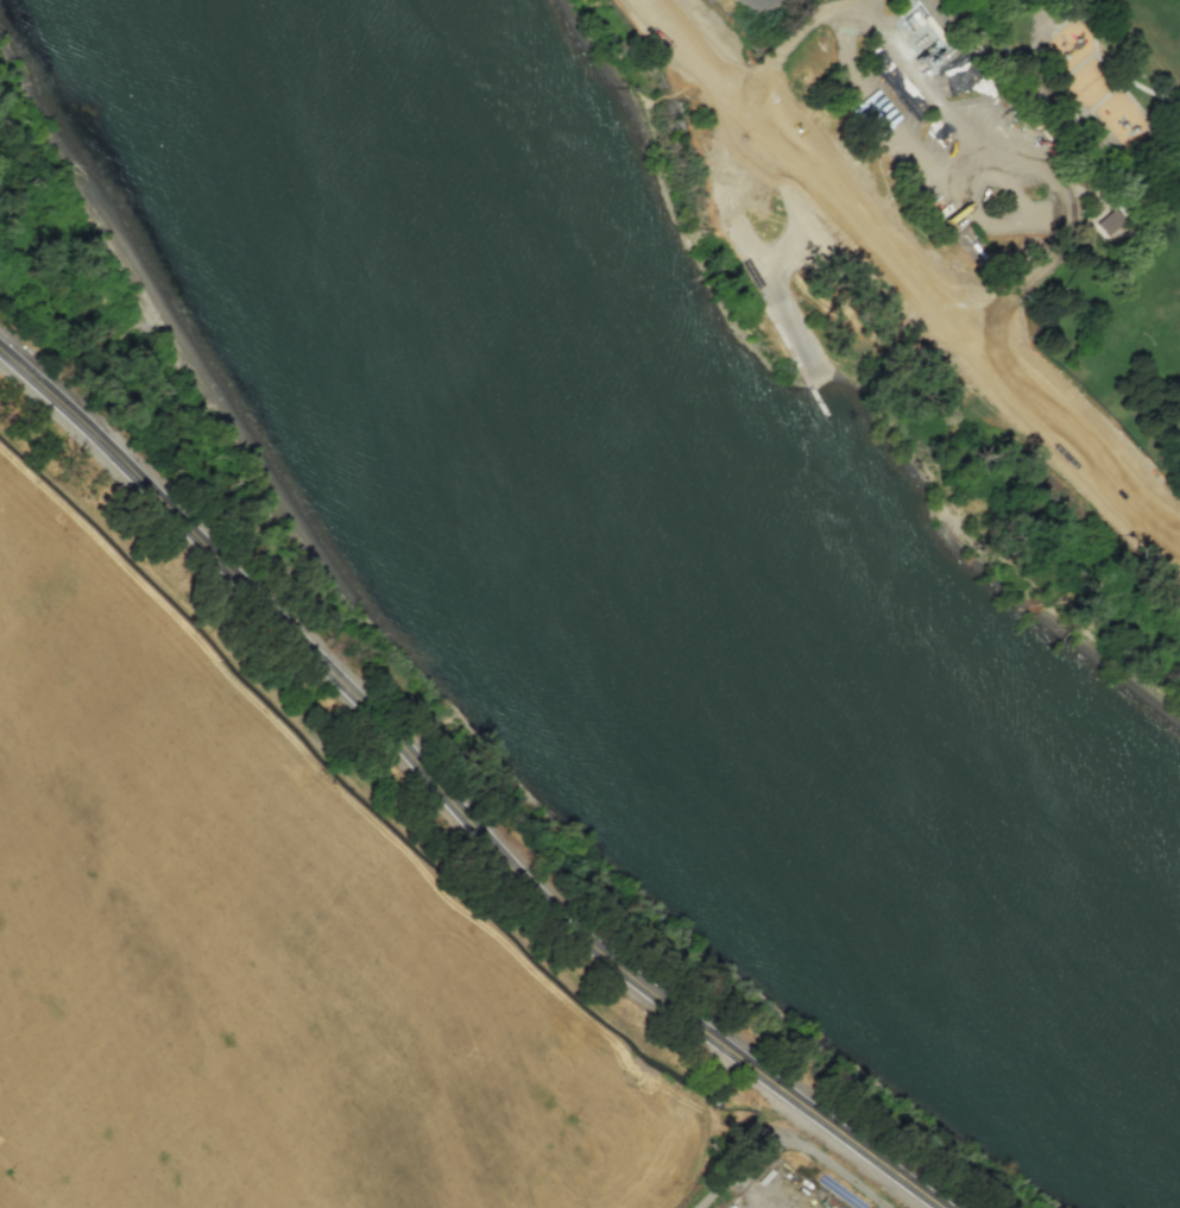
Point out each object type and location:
road: (843, 5)
park: (1154, 31)
road: (738, 93)
road: (740, 101)
road: (993, 101)
road: (948, 114)
parking lot: (951, 119)
road: (917, 147)
park: (1016, 183)
road: (897, 213)
road: (1056, 214)
road: (753, 258)
road: (777, 260)
road: (905, 271)
park: (1156, 300)
road: (945, 325)
road: (1081, 454)
river: (667, 566)
road: (453, 803)
crop: (255, 939)
road: (751, 1153)
building: (731, 1207)

